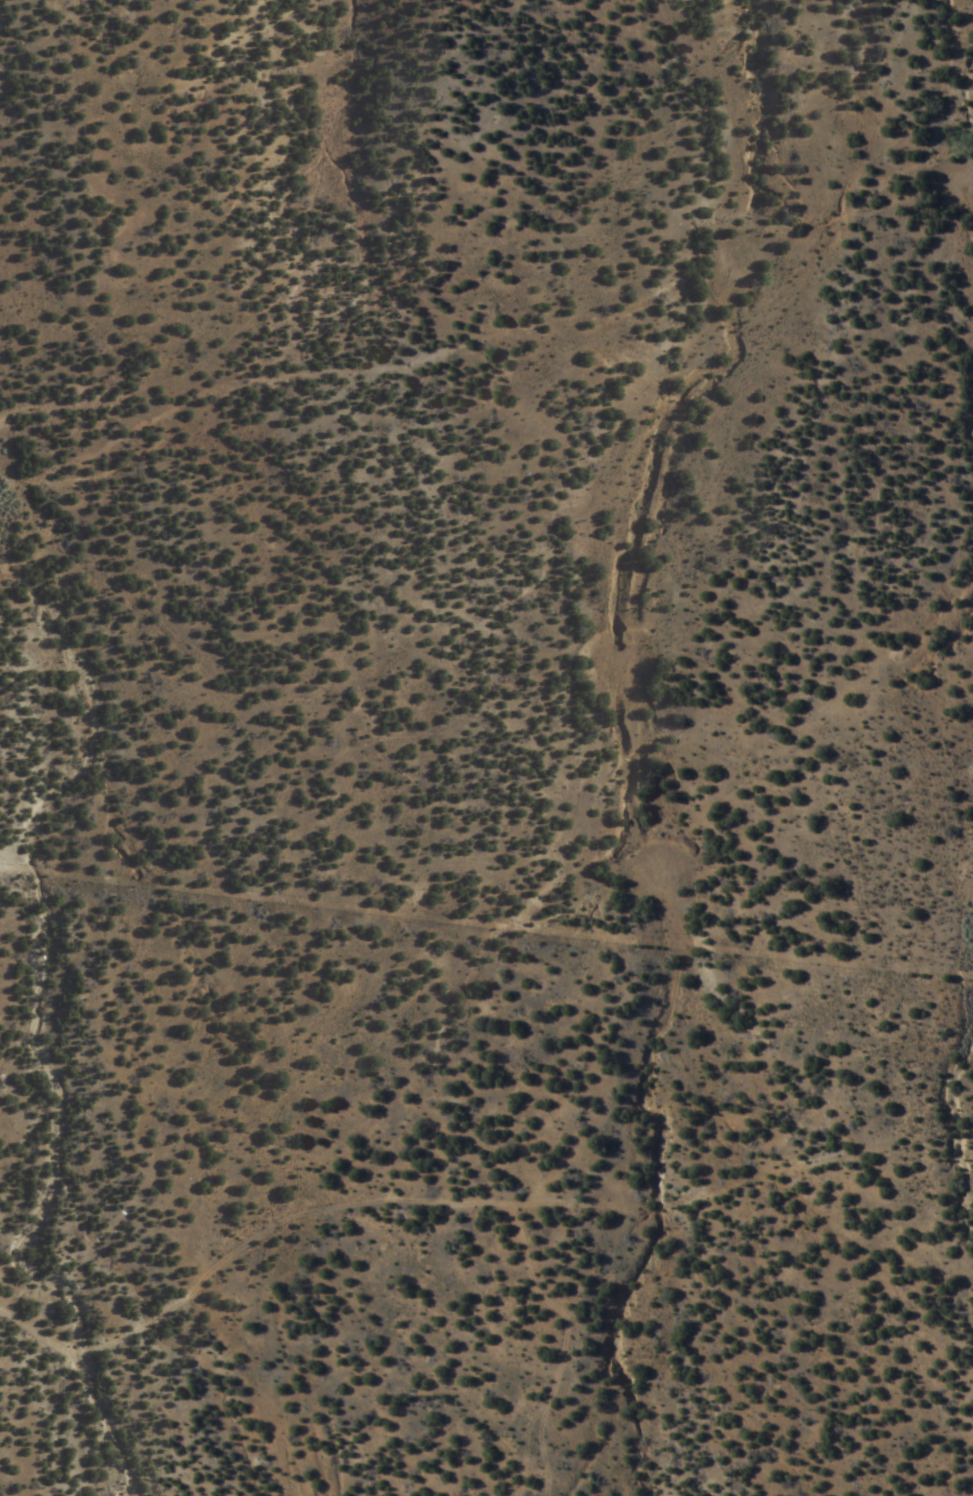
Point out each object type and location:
road: (463, 1200)

